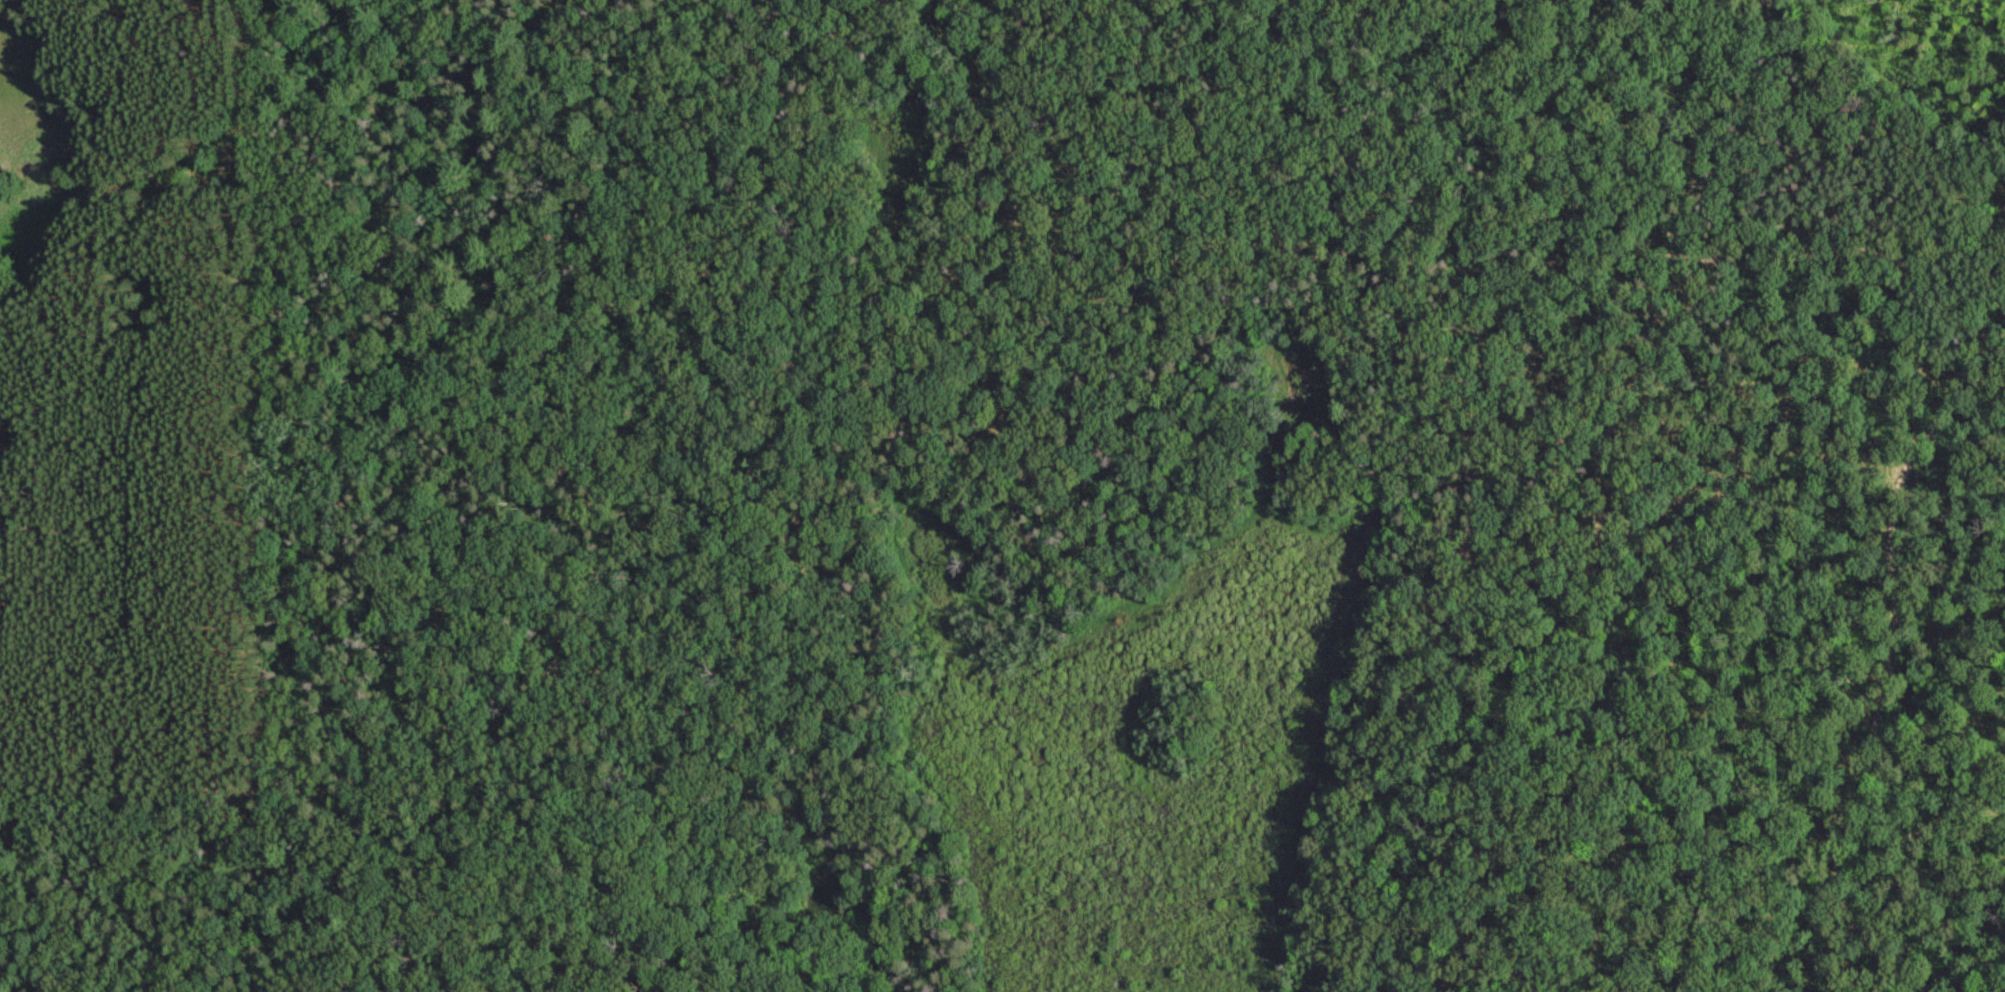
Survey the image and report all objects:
road: (183, 166)
road: (1874, 711)

